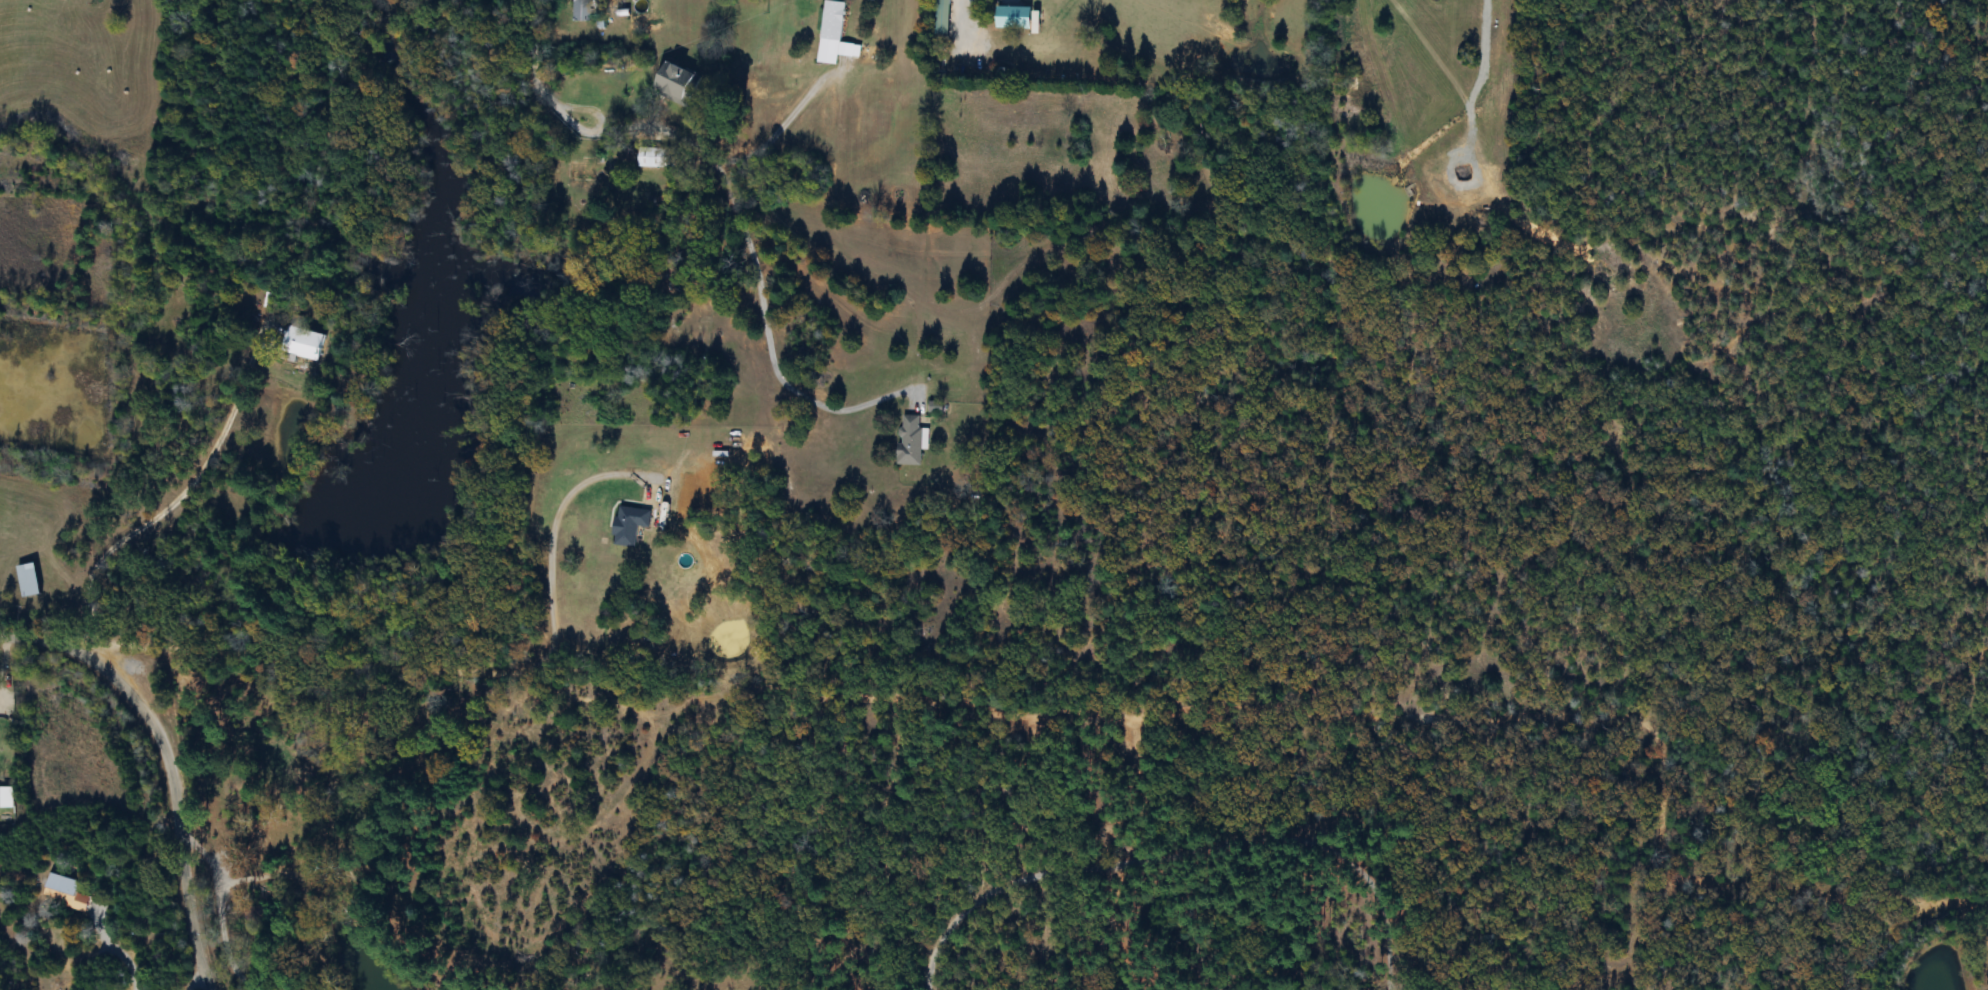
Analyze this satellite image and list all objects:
building: (581, 11)
building: (942, 17)
building: (1012, 18)
building: (835, 28)
road: (686, 53)
building: (673, 81)
road: (776, 127)
road: (686, 143)
building: (649, 157)
building: (589, 175)
building: (302, 342)
road: (237, 393)
road: (832, 410)
building: (910, 441)
building: (628, 526)
road: (124, 537)
building: (27, 580)
road: (446, 671)
road: (164, 765)
building: (6, 797)
building: (65, 892)
road: (219, 907)

